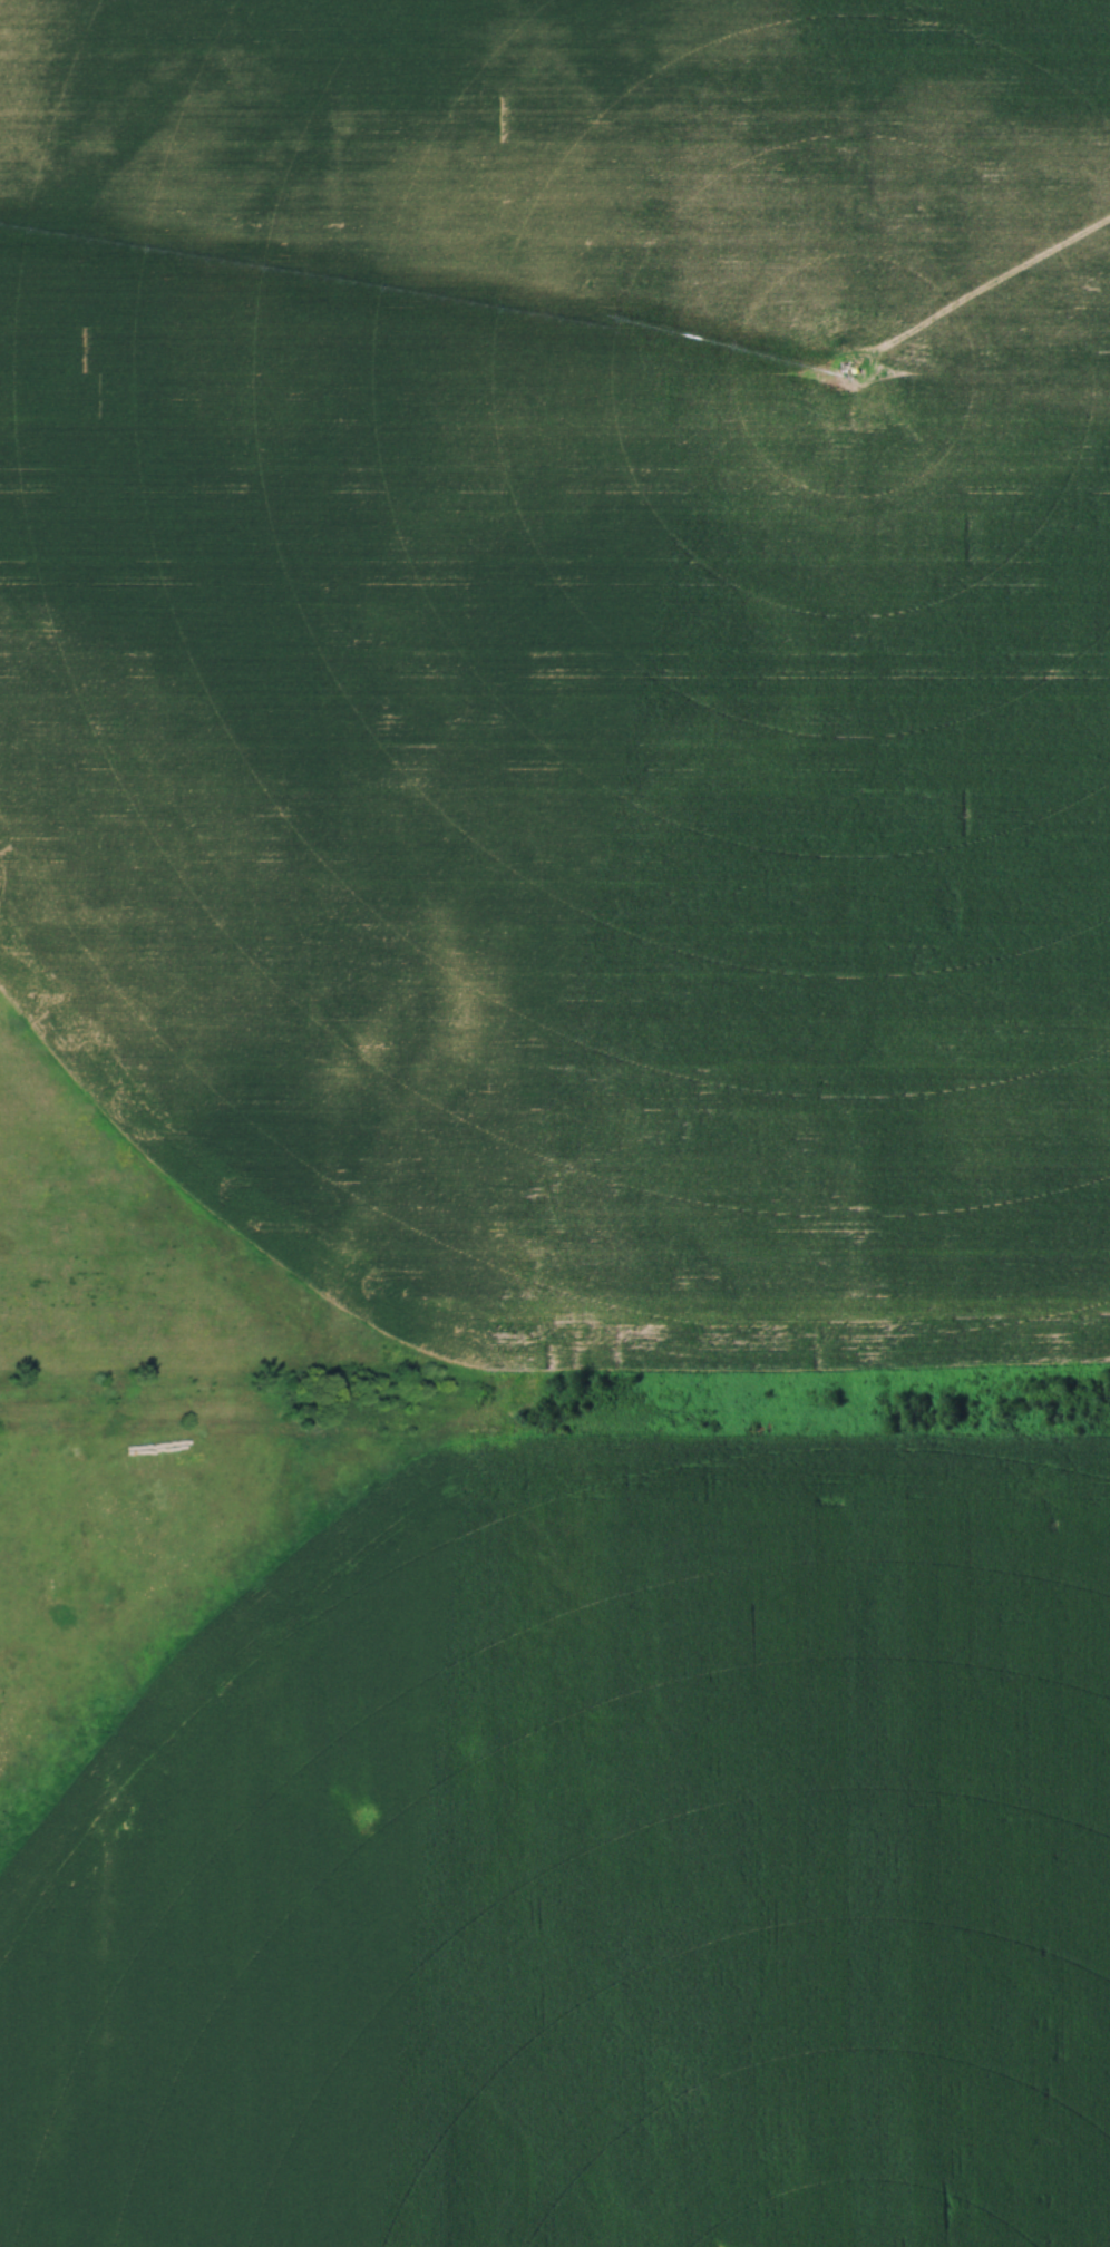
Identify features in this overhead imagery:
road: (555, 1424)

